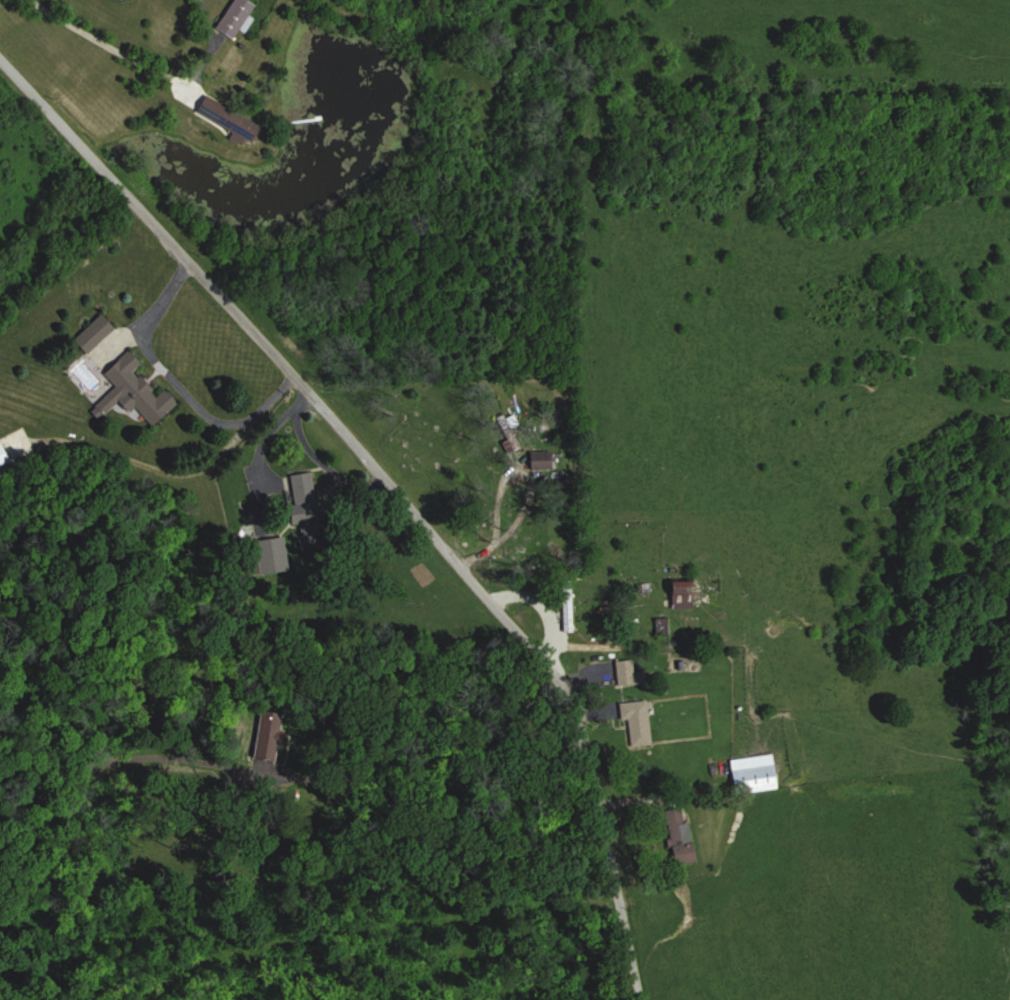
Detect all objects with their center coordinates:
building: (234, 17)
road: (146, 64)
building: (236, 123)
building: (92, 334)
road: (157, 359)
building: (132, 393)
building: (2, 457)
building: (540, 461)
road: (181, 466)
road: (393, 491)
building: (305, 507)
road: (497, 524)
building: (270, 555)
building: (682, 595)
building: (566, 606)
building: (628, 673)
building: (636, 722)
building: (268, 737)
building: (753, 773)
road: (427, 793)
building: (679, 837)

